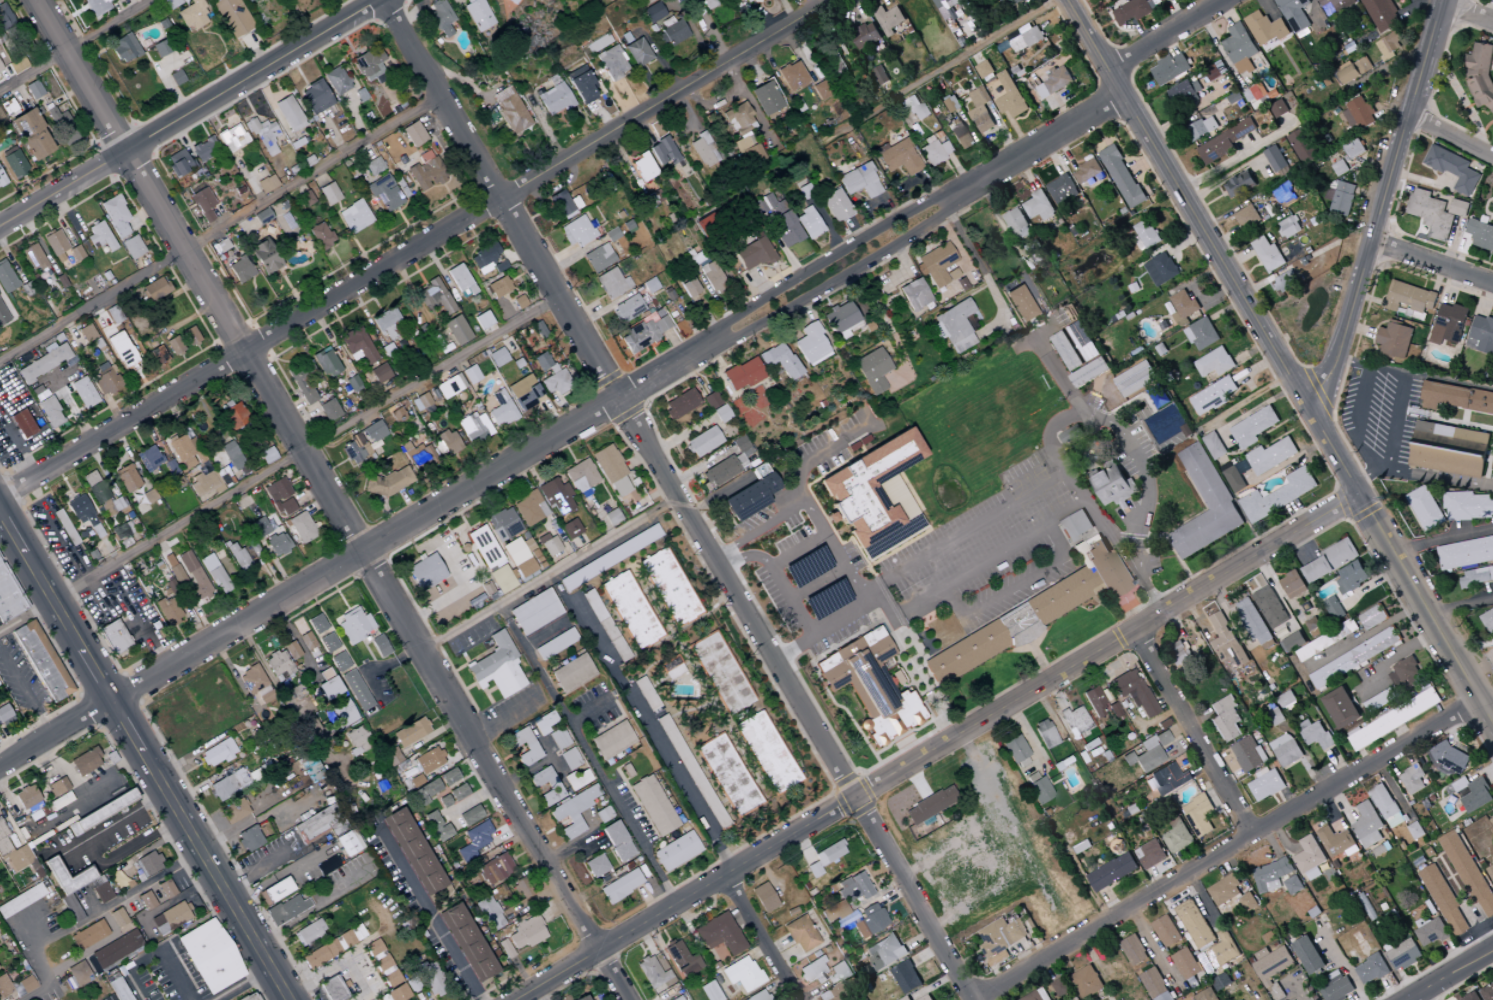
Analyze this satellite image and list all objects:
building: (247, 0)
building: (1106, 0)
building: (1162, 0)
building: (512, 1)
building: (741, 1)
building: (171, 3)
building: (708, 3)
building: (1013, 3)
building: (95, 6)
building: (1335, 6)
building: (1131, 11)
road: (1467, 11)
building: (652, 12)
building: (948, 12)
building: (478, 14)
building: (1295, 14)
building: (1381, 14)
building: (192, 15)
building: (232, 17)
building: (440, 17)
building: (5, 19)
building: (889, 20)
building: (1265, 28)
building: (671, 32)
road: (1090, 34)
road: (1167, 34)
building: (865, 36)
building: (1027, 38)
building: (597, 43)
building: (1389, 45)
road: (77, 46)
building: (161, 48)
building: (1240, 48)
building: (124, 49)
building: (637, 52)
building: (611, 62)
building: (832, 62)
road: (961, 62)
building: (16, 64)
building: (369, 65)
building: (1170, 68)
building: (984, 69)
building: (0, 70)
building: (1353, 70)
building: (1215, 71)
building: (1480, 75)
building: (791, 76)
building: (880, 76)
building: (176, 77)
building: (335, 81)
building: (1054, 82)
building: (582, 87)
building: (33, 89)
building: (820, 90)
building: (1185, 92)
building: (1253, 95)
building: (314, 97)
building: (1010, 97)
building: (764, 98)
building: (554, 99)
road: (669, 99)
building: (8, 108)
building: (914, 108)
building: (1278, 109)
building: (509, 110)
building: (981, 110)
road: (192, 113)
building: (288, 114)
building: (1358, 115)
building: (0, 121)
building: (64, 126)
building: (1202, 128)
building: (741, 131)
building: (31, 134)
building: (412, 134)
building: (960, 135)
building: (263, 136)
road: (1451, 136)
building: (231, 138)
building: (1225, 142)
building: (1302, 146)
building: (1353, 149)
building: (204, 150)
building: (702, 150)
building: (663, 151)
building: (933, 151)
building: (897, 157)
road: (1236, 159)
building: (1275, 159)
building: (177, 162)
building: (15, 164)
building: (373, 166)
building: (643, 167)
building: (1453, 169)
building: (1087, 170)
building: (425, 175)
building: (1122, 177)
building: (1, 180)
building: (858, 181)
building: (266, 184)
building: (1240, 184)
building: (1062, 190)
building: (328, 193)
building: (384, 193)
building: (1340, 197)
building: (305, 198)
building: (202, 204)
building: (563, 204)
building: (835, 205)
building: (1039, 206)
building: (766, 207)
building: (1458, 208)
road: (1378, 209)
building: (1430, 214)
building: (114, 216)
building: (354, 217)
building: (1247, 217)
building: (286, 223)
building: (807, 223)
building: (1017, 224)
building: (1289, 227)
building: (786, 230)
road: (221, 231)
building: (576, 232)
building: (1146, 234)
building: (1480, 234)
building: (320, 235)
building: (98, 236)
building: (54, 242)
building: (131, 247)
road: (873, 248)
building: (75, 253)
building: (752, 254)
building: (1268, 254)
building: (264, 256)
building: (33, 257)
building: (61, 257)
building: (483, 258)
building: (598, 258)
road: (976, 261)
road: (1431, 261)
building: (936, 264)
building: (240, 269)
building: (1161, 269)
building: (711, 277)
building: (6, 278)
building: (459, 281)
building: (1286, 282)
building: (612, 283)
building: (498, 287)
building: (155, 289)
building: (689, 290)
building: (914, 294)
building: (433, 297)
building: (1408, 297)
building: (518, 302)
building: (1019, 303)
building: (1183, 308)
building: (627, 309)
building: (113, 314)
building: (2, 317)
building: (482, 319)
building: (841, 320)
building: (386, 323)
building: (1448, 324)
building: (953, 326)
building: (456, 330)
building: (643, 332)
building: (86, 333)
building: (1202, 334)
building: (1481, 335)
building: (189, 336)
building: (1394, 340)
building: (1083, 341)
building: (173, 345)
building: (357, 345)
building: (810, 345)
building: (121, 349)
road: (251, 350)
building: (1066, 351)
building: (157, 355)
building: (497, 357)
building: (778, 360)
building: (325, 362)
building: (43, 363)
building: (1214, 363)
road: (1371, 365)
building: (871, 370)
building: (379, 373)
building: (1089, 373)
building: (470, 374)
building: (550, 375)
building: (741, 375)
building: (105, 379)
building: (1135, 379)
building: (300, 380)
road: (1450, 381)
building: (351, 384)
building: (449, 386)
building: (82, 392)
building: (524, 393)
road: (1301, 393)
building: (1213, 396)
building: (1457, 398)
building: (424, 399)
building: (710, 400)
building: (679, 404)
building: (500, 409)
building: (328, 410)
building: (49, 412)
building: (397, 415)
building: (233, 416)
road: (1360, 421)
building: (22, 423)
building: (474, 427)
building: (1253, 427)
building: (1170, 429)
building: (374, 432)
road: (1396, 440)
building: (448, 442)
building: (702, 442)
building: (1214, 446)
building: (355, 450)
building: (1449, 450)
building: (186, 451)
building: (231, 455)
building: (265, 456)
building: (1271, 456)
building: (419, 457)
building: (147, 458)
building: (727, 464)
road: (280, 466)
building: (611, 471)
building: (581, 477)
building: (127, 478)
road: (1441, 478)
building: (1234, 479)
building: (390, 482)
building: (205, 484)
building: (1112, 484)
building: (94, 487)
road: (1037, 488)
building: (872, 494)
building: (1278, 495)
building: (148, 496)
building: (555, 496)
building: (279, 497)
building: (749, 498)
road: (331, 500)
road: (680, 500)
building: (1205, 505)
building: (1468, 505)
road: (810, 506)
building: (529, 508)
building: (1425, 508)
building: (82, 513)
building: (608, 518)
building: (503, 524)
building: (1075, 526)
building: (258, 528)
building: (300, 528)
building: (570, 529)
building: (121, 536)
road: (1444, 539)
building: (277, 544)
building: (551, 547)
building: (484, 548)
building: (250, 550)
building: (1465, 553)
building: (236, 556)
road: (743, 557)
building: (609, 558)
building: (1331, 560)
building: (804, 568)
building: (173, 569)
building: (524, 569)
building: (425, 572)
building: (193, 574)
building: (214, 574)
road: (550, 574)
building: (1109, 576)
building: (1352, 577)
building: (1477, 577)
building: (497, 583)
road: (310, 585)
building: (1292, 585)
building: (669, 587)
building: (8, 597)
road: (789, 599)
road: (1461, 604)
building: (1332, 609)
building: (630, 610)
building: (1272, 610)
building: (168, 611)
building: (534, 611)
building: (1372, 617)
building: (1252, 621)
building: (1488, 622)
building: (1014, 624)
building: (605, 626)
building: (353, 627)
road: (820, 630)
building: (322, 633)
road: (1368, 636)
building: (114, 637)
building: (1226, 640)
building: (1326, 640)
building: (306, 641)
building: (1292, 642)
building: (555, 644)
building: (379, 646)
road: (1109, 647)
building: (290, 650)
building: (1181, 652)
road: (1399, 657)
building: (1354, 658)
building: (41, 661)
building: (339, 662)
building: (278, 665)
building: (497, 668)
building: (572, 673)
building: (720, 673)
building: (1406, 675)
building: (251, 680)
road: (273, 681)
building: (870, 686)
building: (328, 688)
building: (356, 690)
building: (1133, 692)
building: (645, 694)
road: (25, 697)
building: (1287, 700)
road: (1488, 700)
building: (1379, 701)
building: (1099, 704)
building: (1341, 708)
building: (342, 713)
building: (4, 714)
building: (1276, 717)
building: (1226, 719)
building: (1394, 719)
building: (1075, 721)
building: (543, 723)
road: (641, 724)
building: (410, 732)
building: (1044, 734)
road: (1195, 734)
building: (1315, 734)
building: (558, 738)
building: (1161, 738)
building: (356, 740)
building: (612, 740)
building: (1088, 744)
building: (523, 746)
building: (1013, 749)
building: (1286, 750)
building: (766, 752)
building: (216, 753)
building: (1248, 754)
road: (587, 755)
building: (391, 756)
building: (1144, 756)
road: (144, 757)
building: (1450, 757)
building: (570, 759)
building: (427, 760)
building: (84, 762)
building: (311, 771)
building: (692, 773)
building: (728, 775)
building: (448, 777)
building: (578, 779)
building: (1412, 779)
building: (1167, 780)
building: (1266, 784)
building: (228, 785)
building: (546, 786)
building: (57, 787)
building: (1036, 787)
building: (457, 792)
building: (423, 793)
building: (26, 796)
building: (63, 799)
building: (443, 801)
building: (653, 805)
building: (928, 805)
building: (1386, 806)
building: (234, 811)
building: (572, 811)
building: (101, 812)
building: (469, 815)
building: (1199, 815)
road: (125, 818)
building: (317, 825)
building: (1367, 825)
building: (436, 827)
building: (1177, 836)
building: (248, 838)
building: (473, 840)
building: (616, 841)
building: (348, 842)
building: (1336, 842)
road: (996, 843)
road: (945, 845)
building: (1116, 846)
road: (74, 847)
road: (126, 848)
road: (1234, 850)
building: (413, 851)
building: (676, 851)
building: (12, 853)
building: (1150, 854)
building: (824, 858)
building: (1309, 858)
building: (147, 864)
building: (325, 865)
building: (595, 866)
road: (253, 867)
building: (494, 869)
building: (84, 872)
building: (1112, 872)
building: (1491, 872)
building: (1469, 873)
building: (1271, 875)
building: (1293, 885)
building: (620, 886)
building: (521, 888)
building: (99, 889)
building: (165, 889)
building: (275, 891)
building: (1224, 891)
building: (849, 893)
building: (763, 897)
building: (21, 900)
building: (145, 900)
building: (1444, 900)
road: (687, 901)
building: (1248, 902)
building: (1366, 907)
building: (286, 909)
road: (426, 911)
building: (489, 913)
road: (91, 915)
building: (117, 917)
building: (169, 918)
building: (869, 921)
building: (1194, 924)
building: (1166, 931)
building: (308, 932)
building: (526, 933)
building: (1431, 933)
building: (718, 934)
building: (800, 934)
building: (88, 935)
road: (765, 938)
building: (1358, 939)
building: (467, 942)
building: (1224, 948)
building: (115, 949)
building: (328, 949)
building: (1134, 950)
building: (885, 952)
road: (151, 954)
building: (1308, 955)
building: (1404, 955)
building: (209, 956)
building: (682, 960)
building: (381, 963)
building: (1185, 964)
building: (1272, 964)
road: (1344, 965)
road: (335, 966)
building: (1371, 970)
building: (77, 972)
building: (651, 972)
building: (813, 972)
building: (741, 974)
road: (1450, 974)
building: (906, 977)
building: (429, 979)
building: (1087, 982)
road: (240, 983)
building: (25, 984)
building: (1155, 985)
building: (4, 986)
building: (1061, 987)
building: (1336, 987)
building: (118, 989)
building: (331, 989)
building: (709, 991)
building: (398, 993)
building: (1488, 993)
building: (834, 994)
building: (1206, 995)
building: (759, 996)
building: (1036, 996)
building: (248, 997)
road: (1417, 997)
building: (1471, 997)
building: (582, 998)
building: (677, 998)
building: (905, 998)
building: (926, 998)

